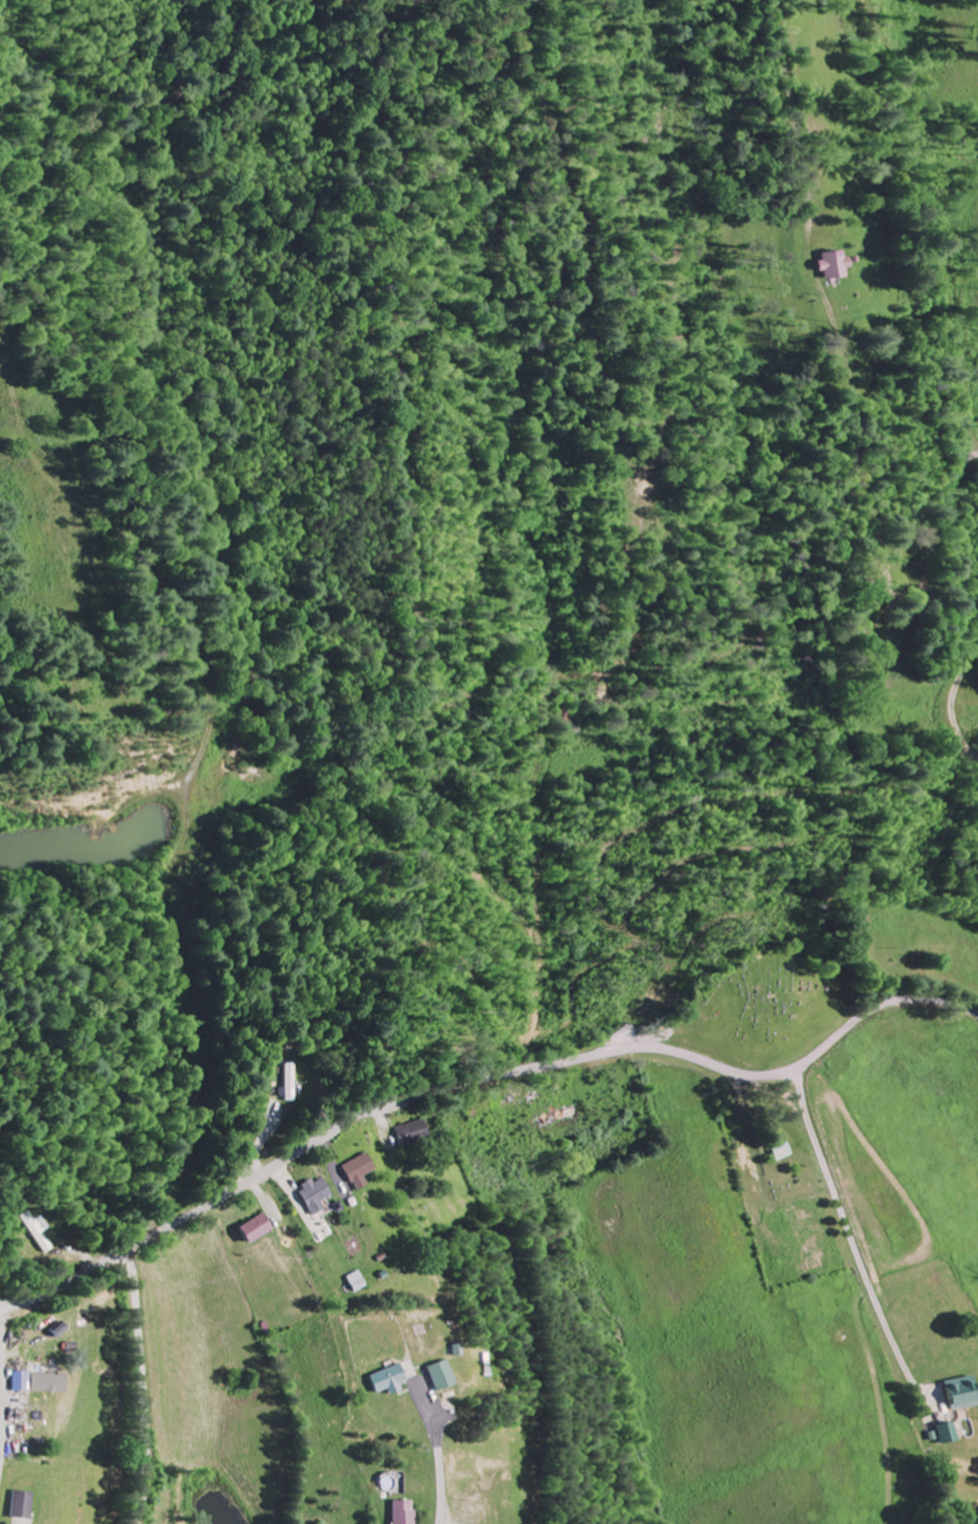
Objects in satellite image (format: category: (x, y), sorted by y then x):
building: (838, 267)
road: (861, 764)
road: (203, 925)
road: (478, 1080)
building: (293, 1083)
building: (416, 1135)
building: (363, 1172)
building: (316, 1196)
building: (257, 1229)
building: (38, 1234)
building: (357, 1283)
building: (445, 1377)
building: (391, 1381)
building: (23, 1383)
building: (51, 1384)
building: (965, 1394)
building: (951, 1434)
road: (440, 1469)
building: (24, 1506)
building: (407, 1513)

